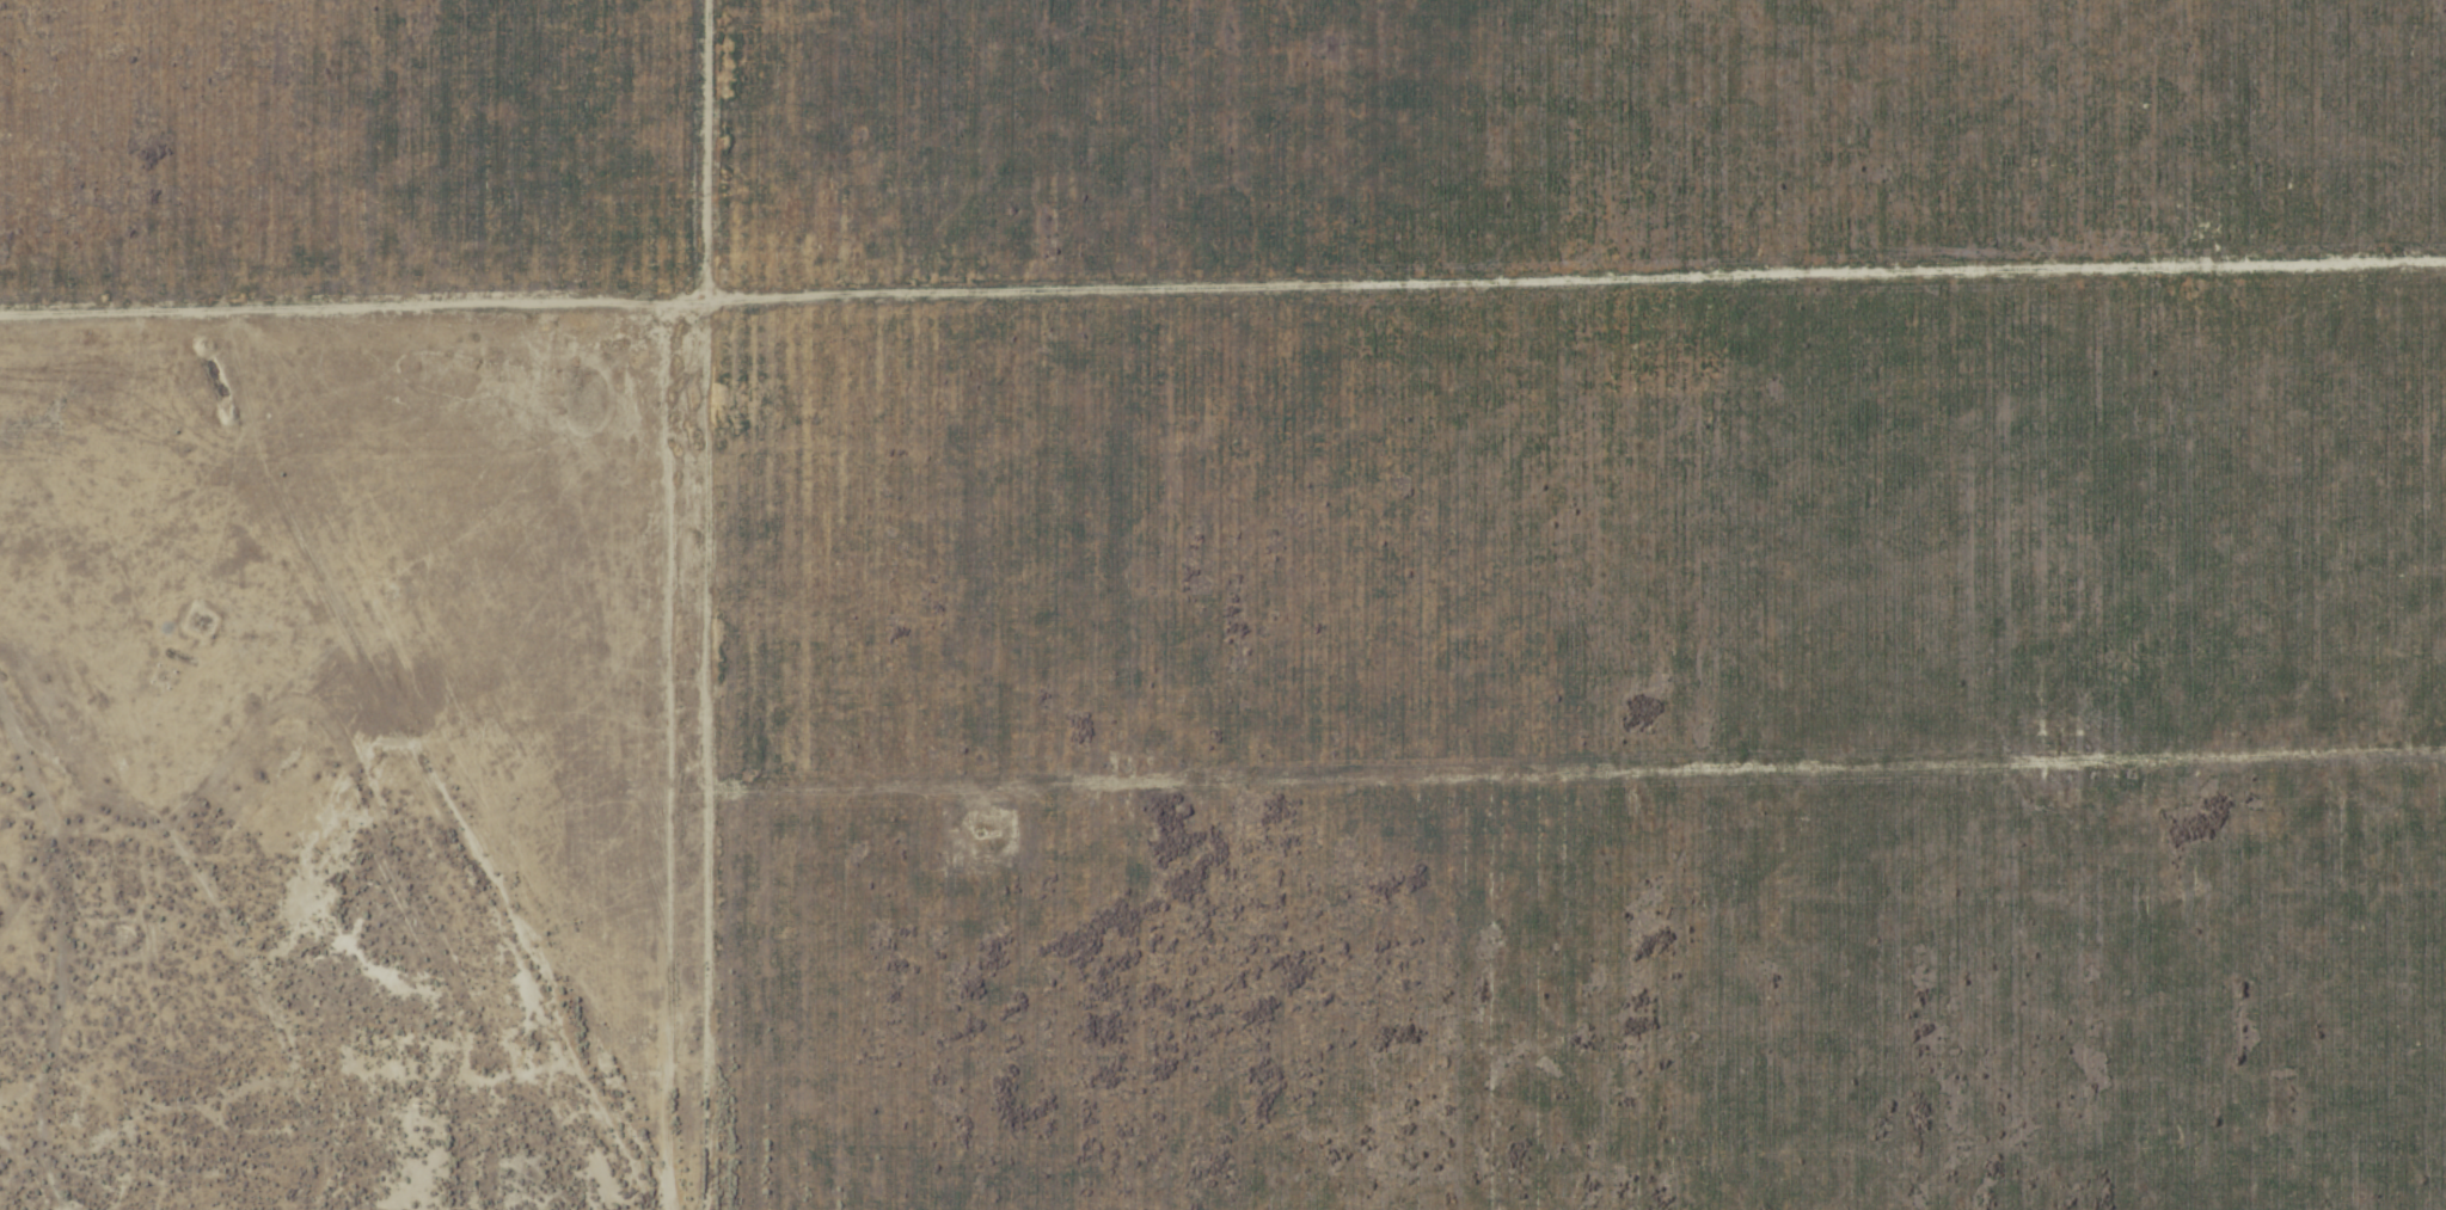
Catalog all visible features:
road: (394, 603)

